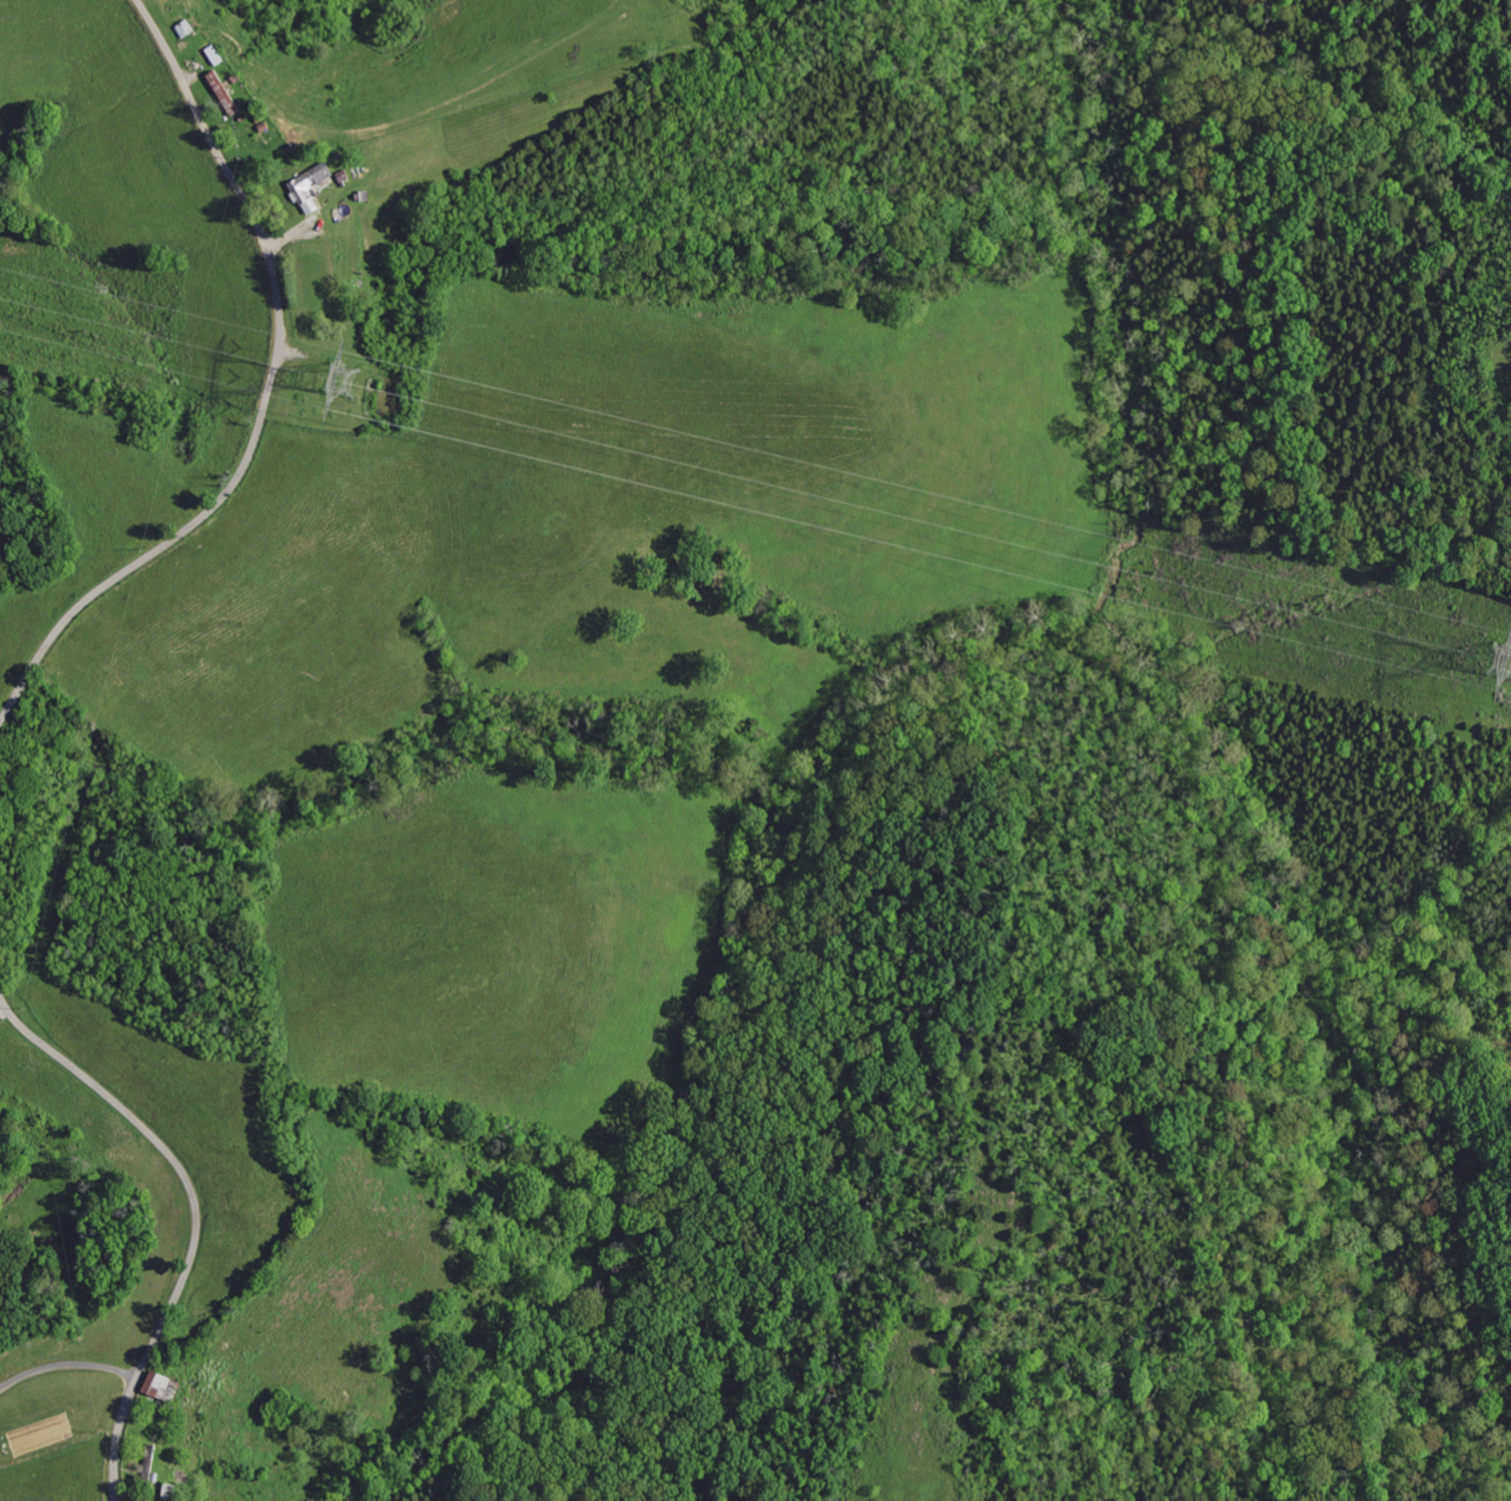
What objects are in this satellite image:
building: (311, 187)
power tower: (341, 378)
road: (268, 398)
road: (196, 1213)
road: (68, 1365)
building: (164, 1386)

